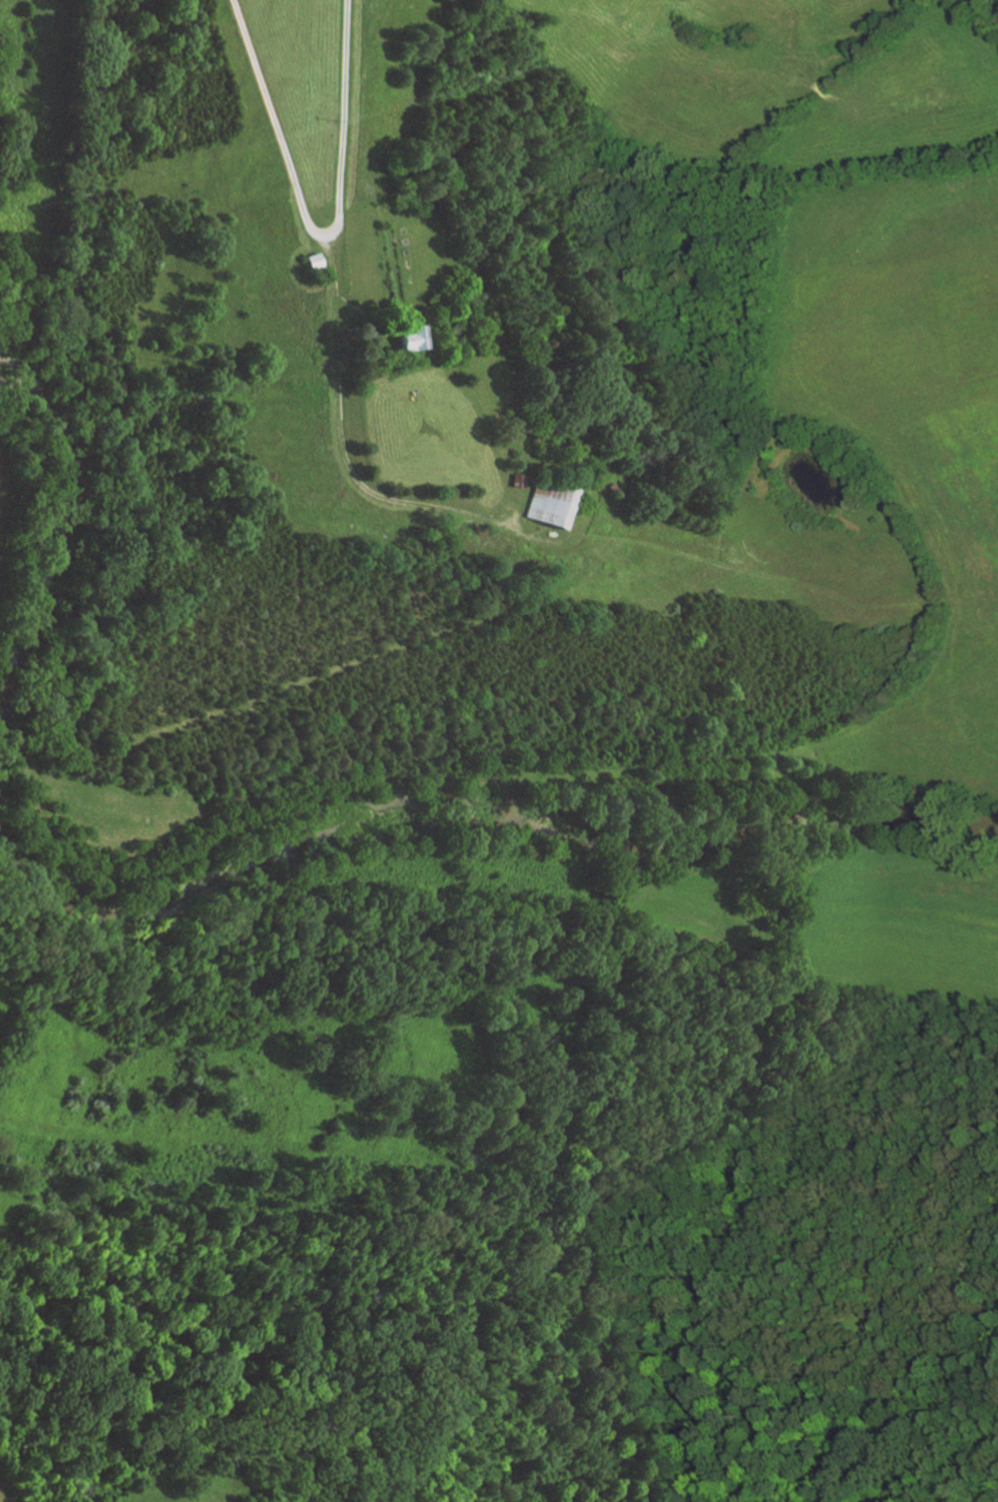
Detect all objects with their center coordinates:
road: (319, 234)
building: (317, 261)
building: (323, 271)
building: (413, 338)
building: (389, 358)
building: (519, 426)
road: (340, 437)
building: (517, 479)
building: (614, 487)
building: (550, 502)

